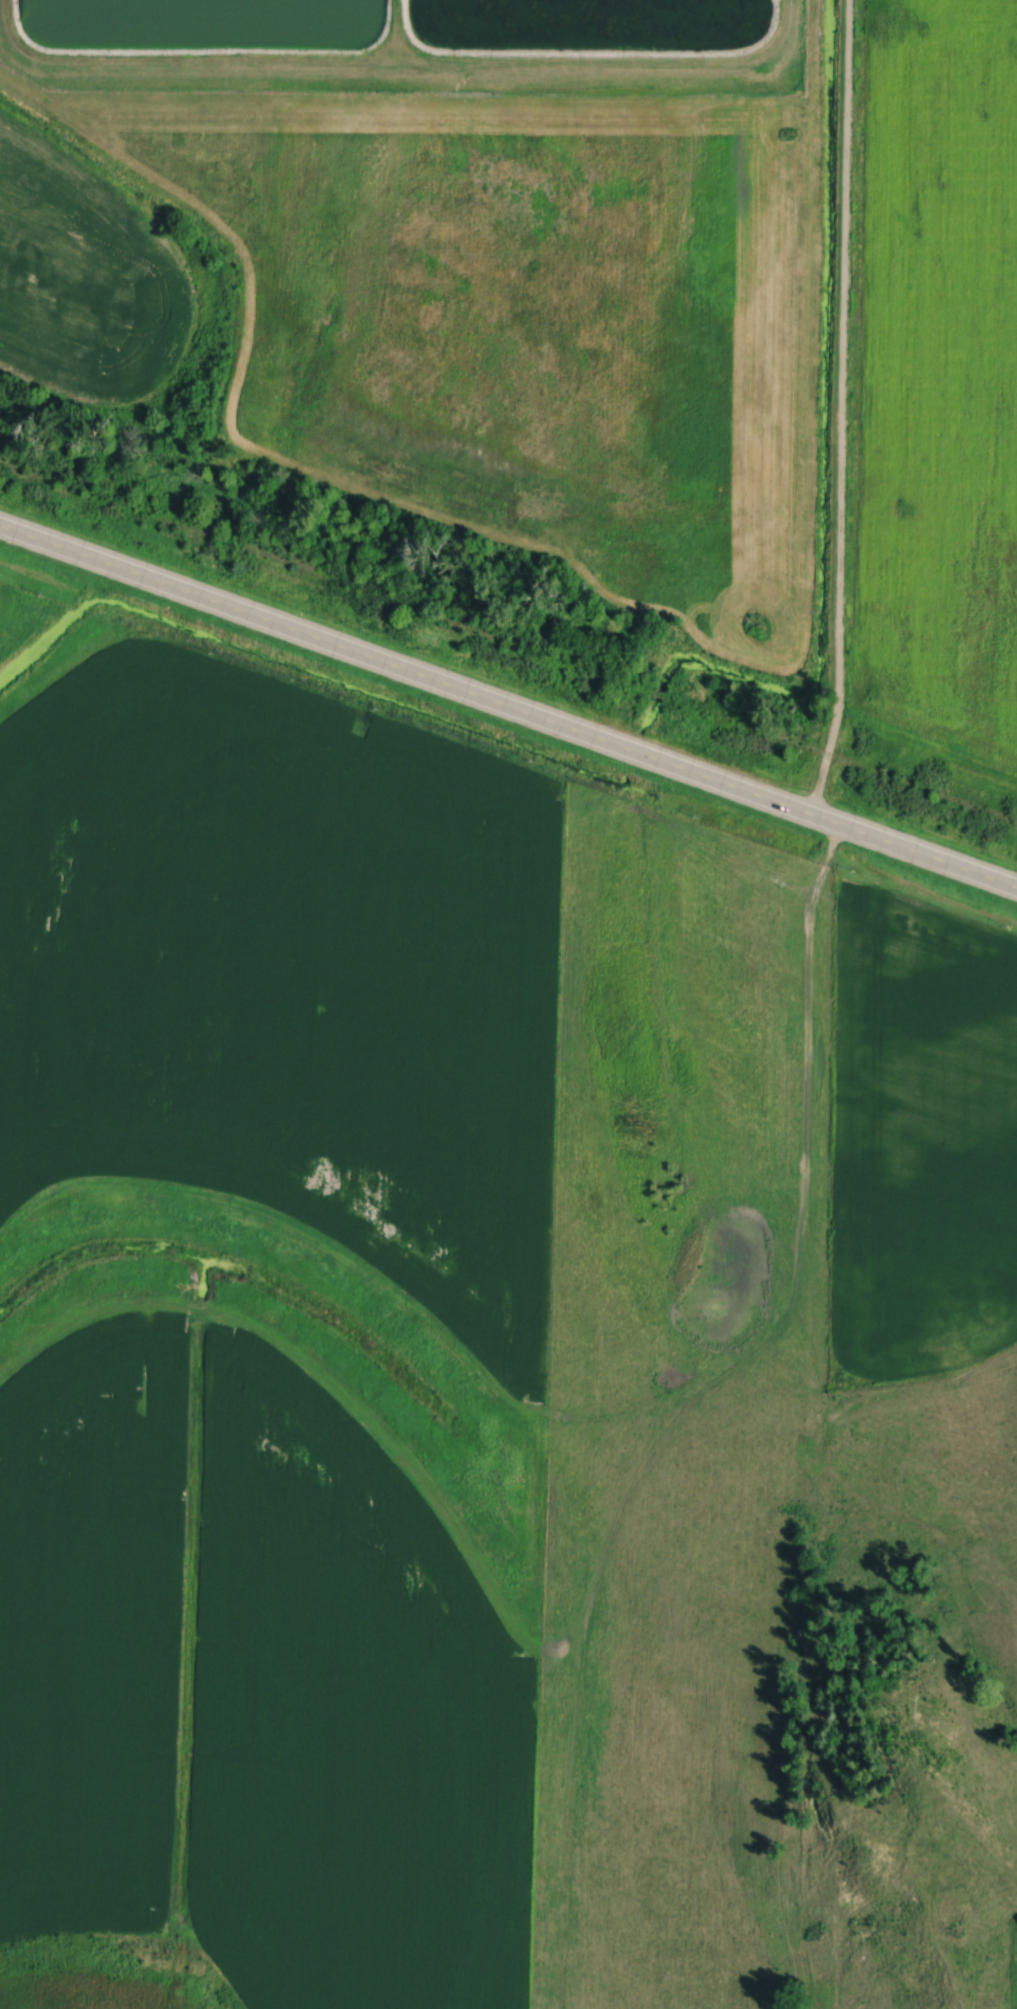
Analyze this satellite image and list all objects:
road: (843, 408)
road: (508, 705)

